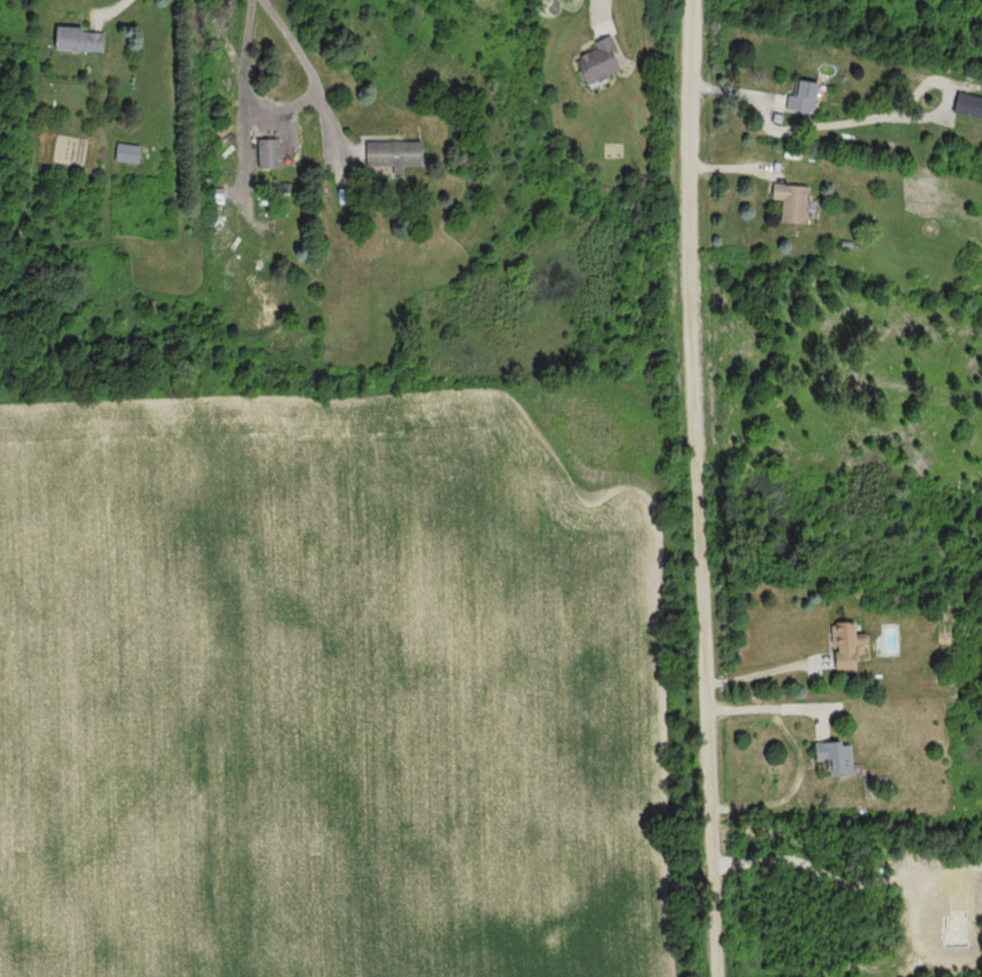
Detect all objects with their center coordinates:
road: (113, 6)
road: (599, 6)
building: (72, 39)
road: (245, 52)
road: (297, 56)
building: (593, 60)
building: (798, 96)
building: (966, 104)
building: (265, 153)
building: (387, 154)
building: (787, 202)
road: (698, 488)
building: (843, 643)
road: (761, 676)
road: (773, 710)
building: (835, 756)

